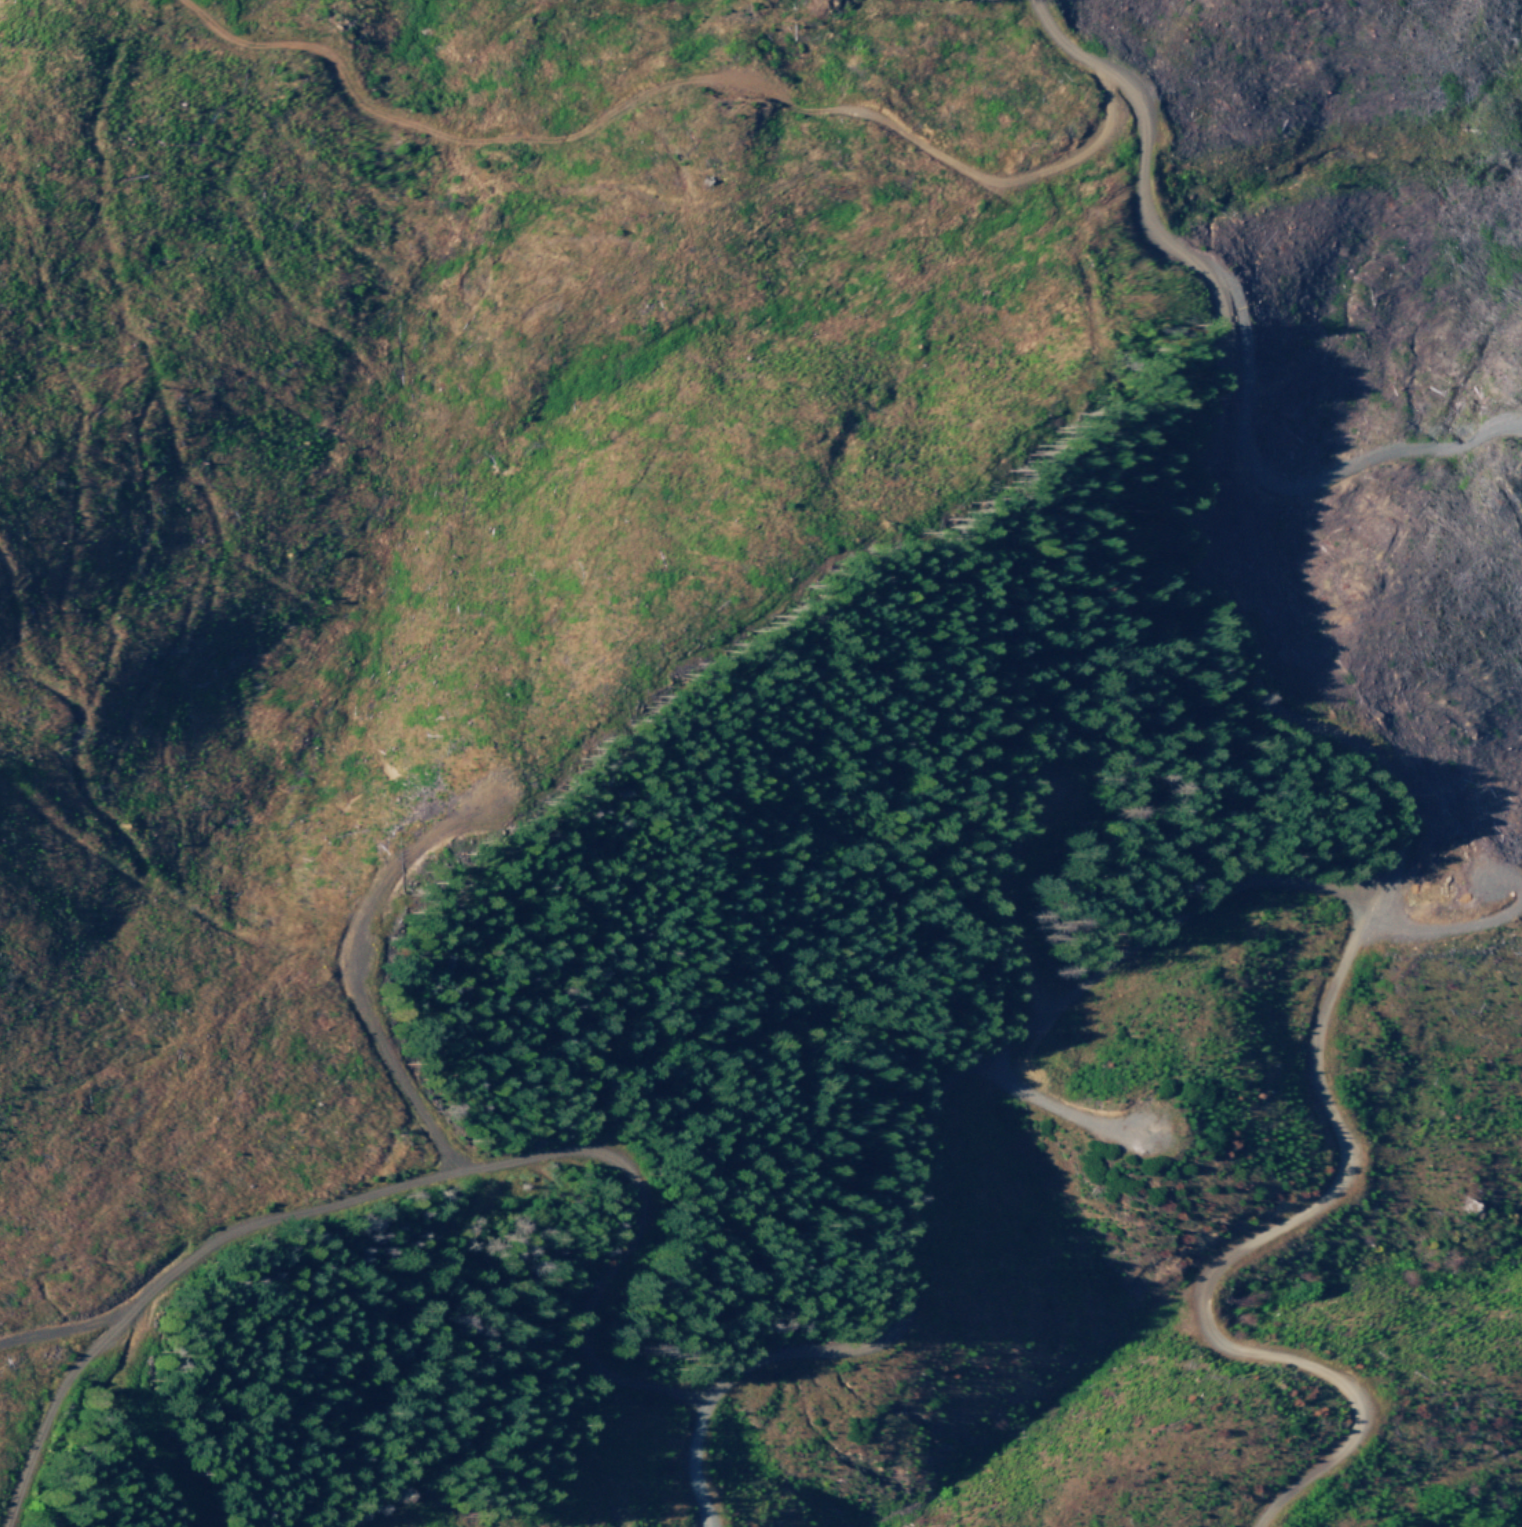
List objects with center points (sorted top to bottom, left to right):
road: (670, 86)
road: (1304, 491)
road: (1359, 878)
road: (414, 1182)
road: (1239, 1246)

